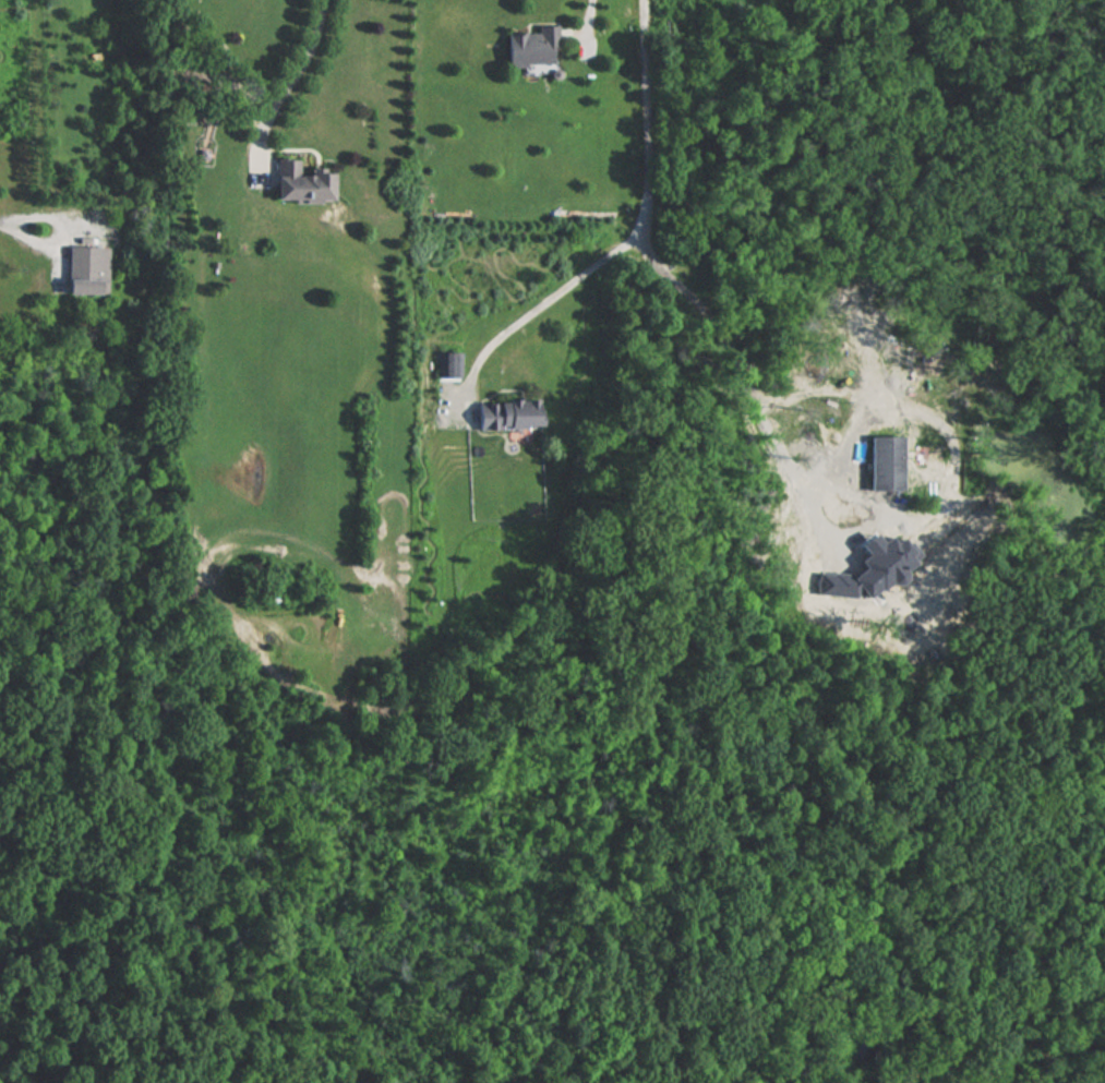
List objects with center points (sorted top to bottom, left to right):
road: (588, 17)
building: (530, 47)
road: (299, 73)
building: (298, 183)
road: (1, 218)
road: (56, 229)
road: (656, 262)
building: (85, 267)
road: (545, 302)
building: (448, 364)
building: (504, 412)
building: (889, 460)
road: (957, 465)

